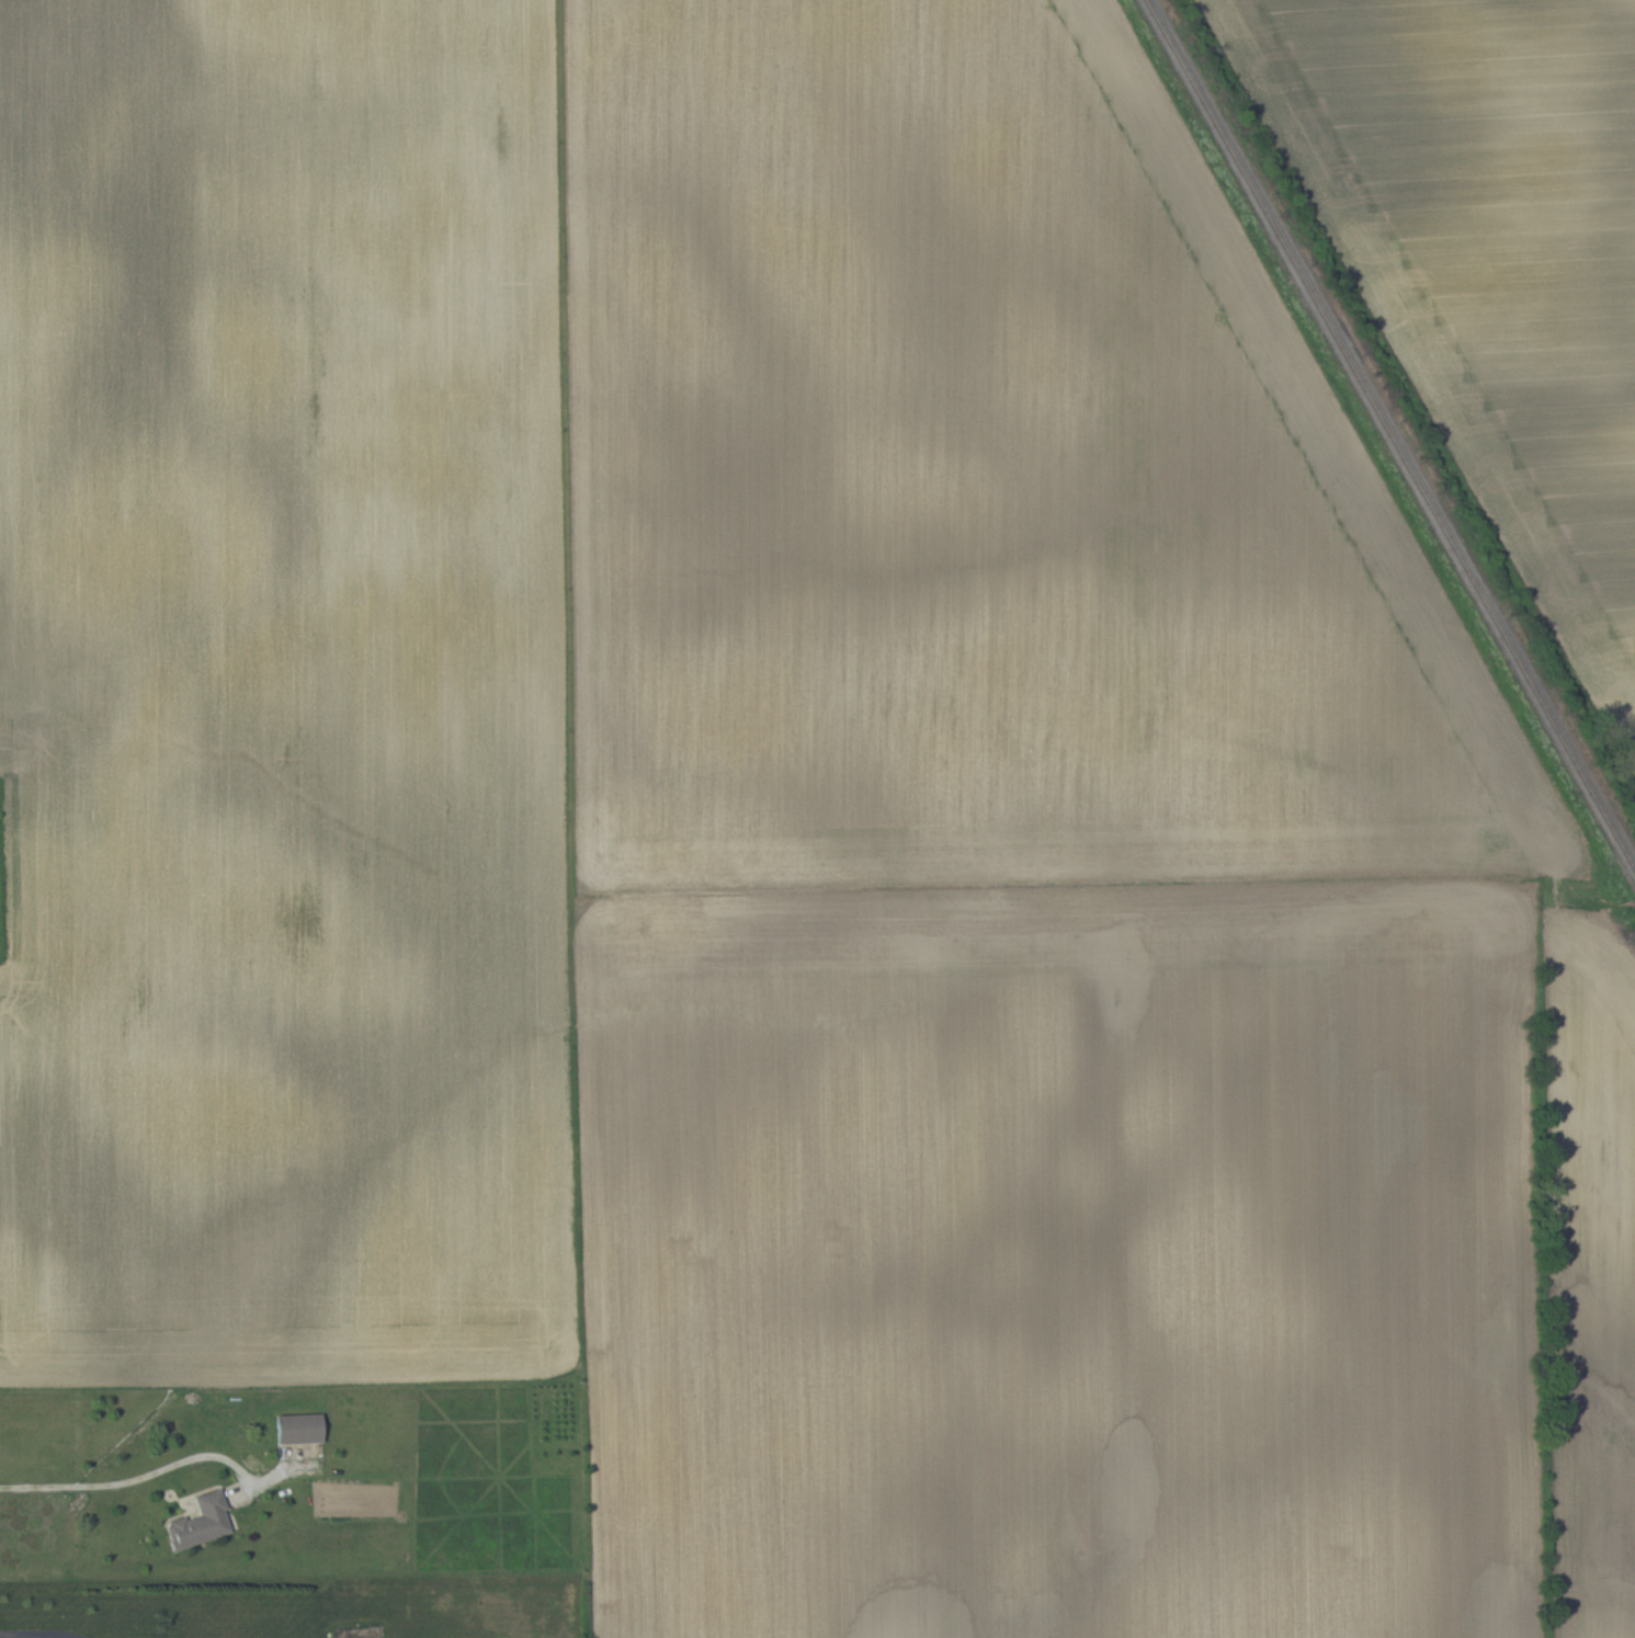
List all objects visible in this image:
railway: (1389, 436)
building: (296, 1427)
road: (137, 1476)
building: (196, 1521)
road: (41, 1633)

